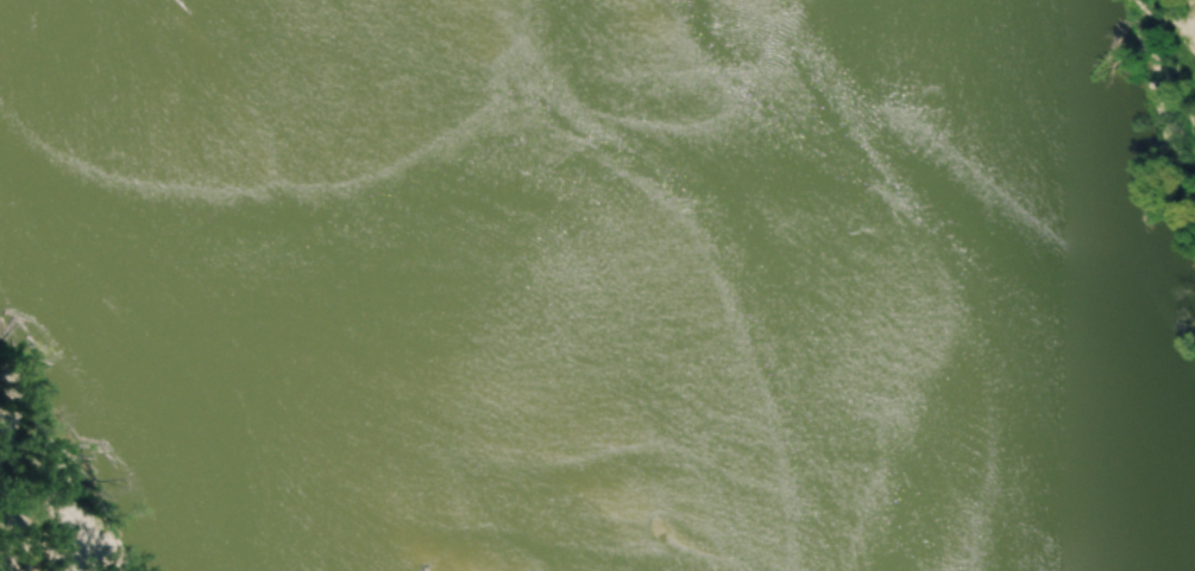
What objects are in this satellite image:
river: (728, 287)

